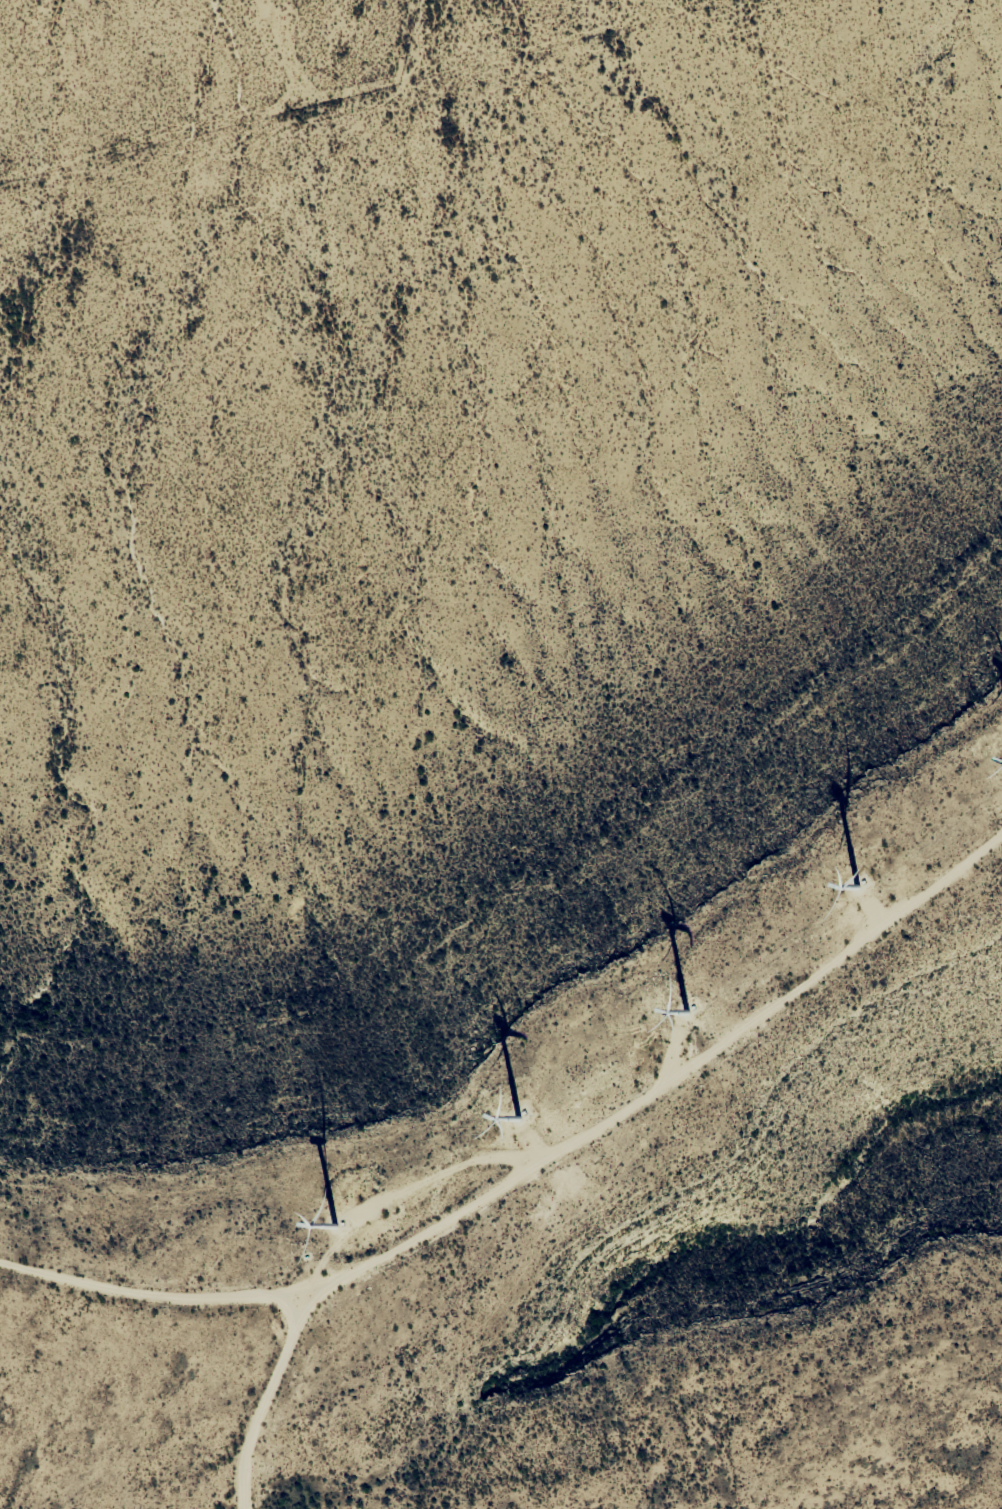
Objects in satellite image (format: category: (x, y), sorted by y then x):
wind turbine: (855, 883)
wind turbine: (678, 1025)
wind turbine: (524, 1120)
wind turbine: (329, 1224)

